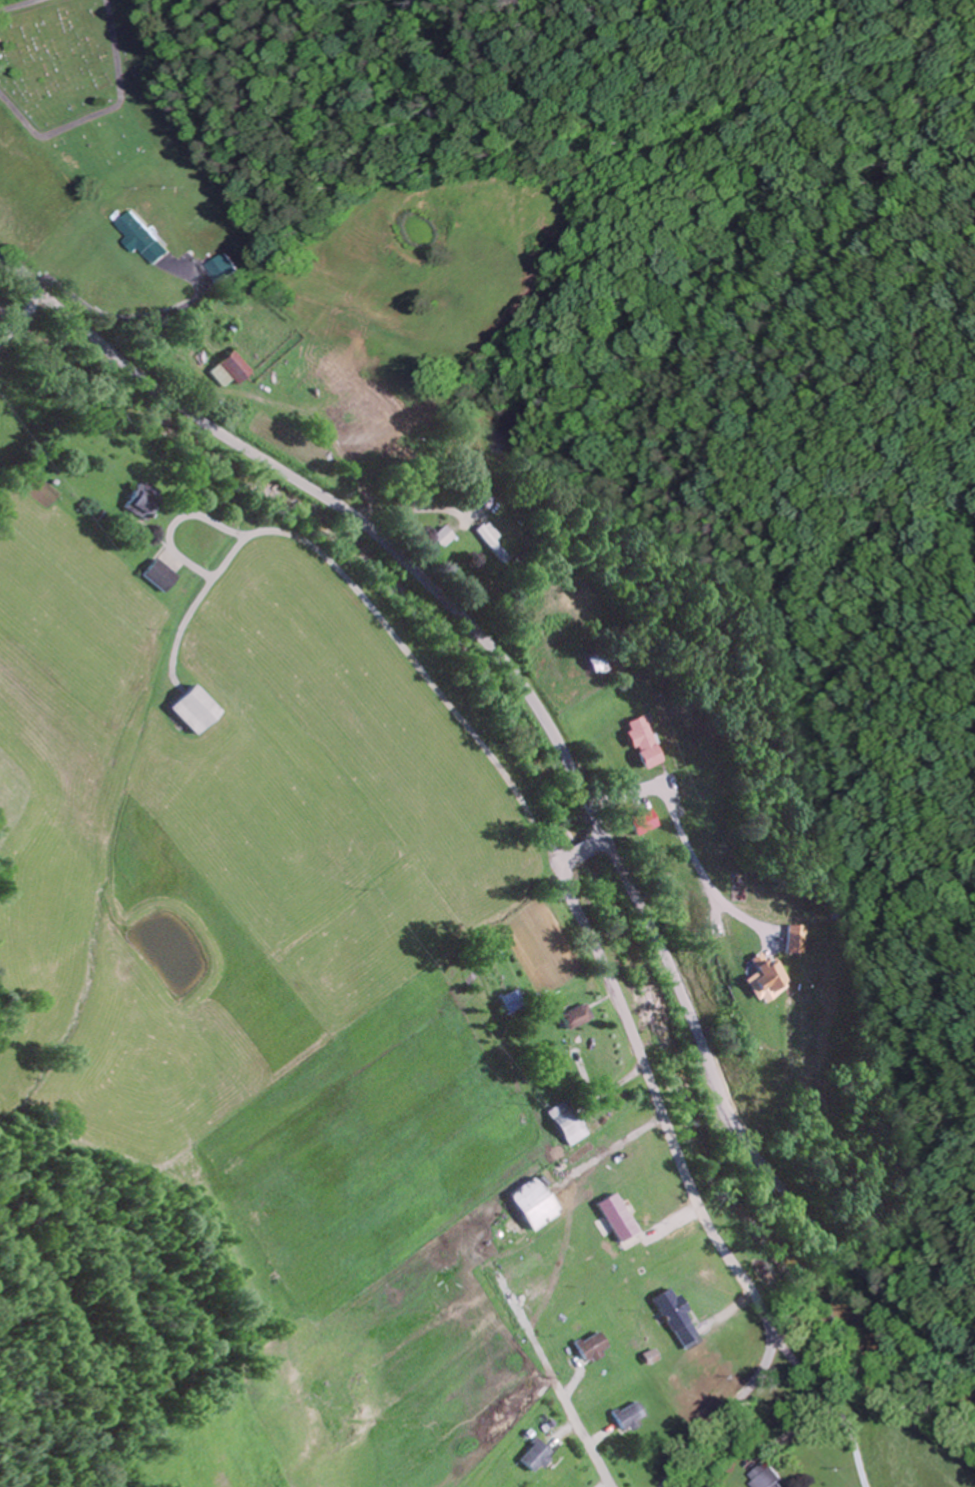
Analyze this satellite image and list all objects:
road: (14, 4)
road: (100, 112)
building: (143, 239)
building: (219, 268)
building: (235, 369)
building: (376, 420)
building: (141, 500)
building: (445, 536)
building: (162, 576)
road: (369, 620)
building: (604, 661)
building: (198, 707)
building: (652, 740)
road: (564, 742)
building: (652, 820)
building: (514, 999)
building: (577, 1015)
building: (569, 1121)
road: (683, 1165)
building: (535, 1202)
building: (566, 1282)
building: (676, 1316)
building: (593, 1346)
building: (631, 1415)
road: (829, 1415)
building: (536, 1455)
building: (767, 1476)

